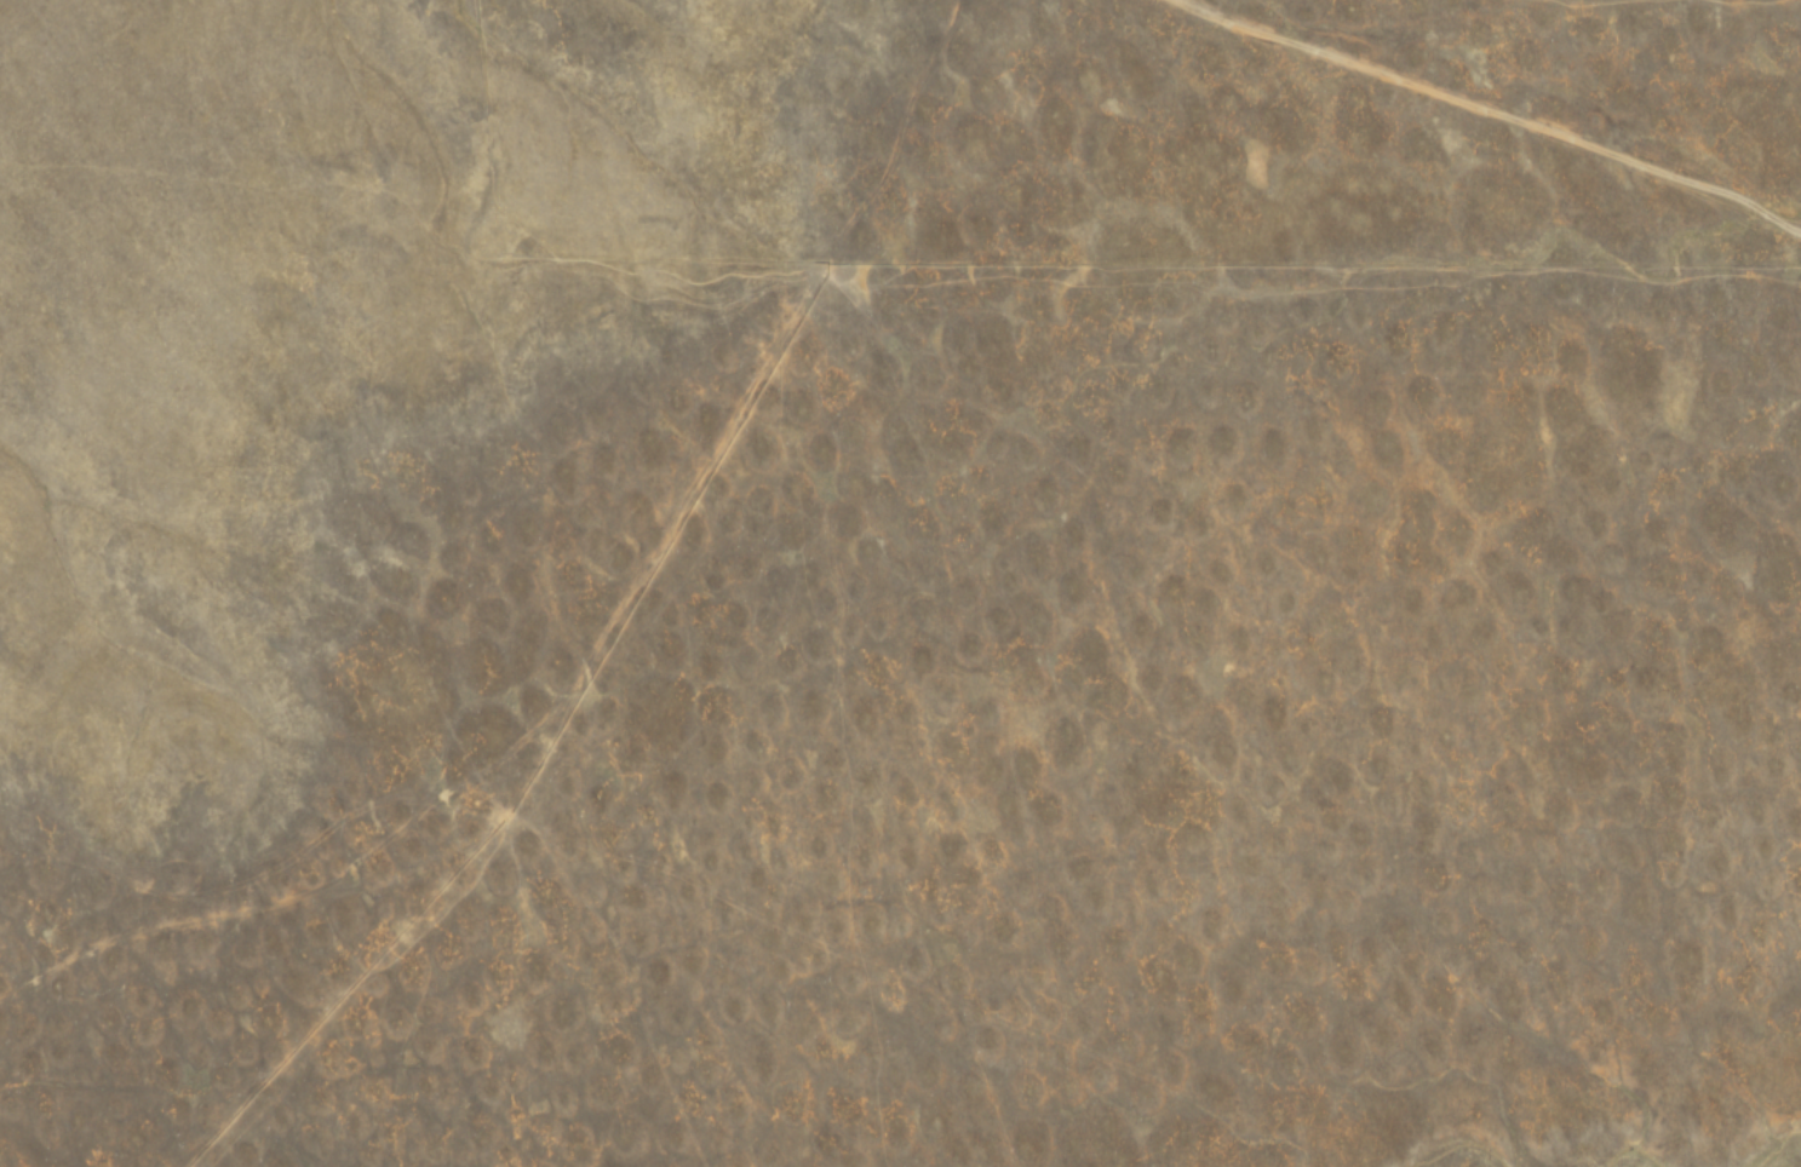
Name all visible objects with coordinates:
road: (1497, 113)
road: (613, 637)

